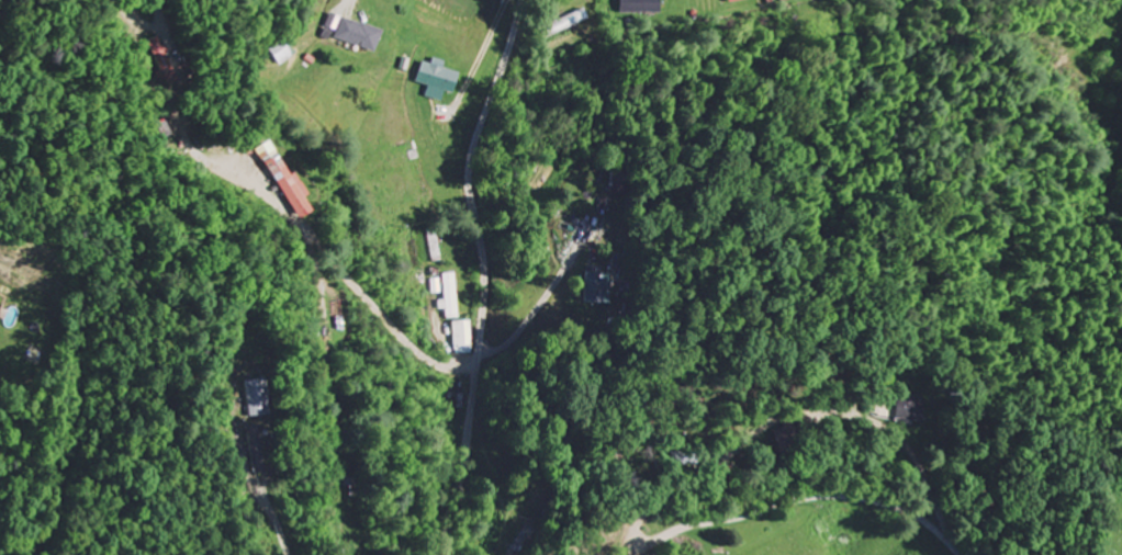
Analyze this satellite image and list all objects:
building: (738, 0)
building: (641, 8)
building: (355, 33)
building: (283, 54)
building: (440, 77)
building: (290, 182)
road: (484, 274)
building: (599, 286)
building: (452, 297)
building: (0, 302)
building: (260, 399)
building: (910, 412)
road: (805, 499)

